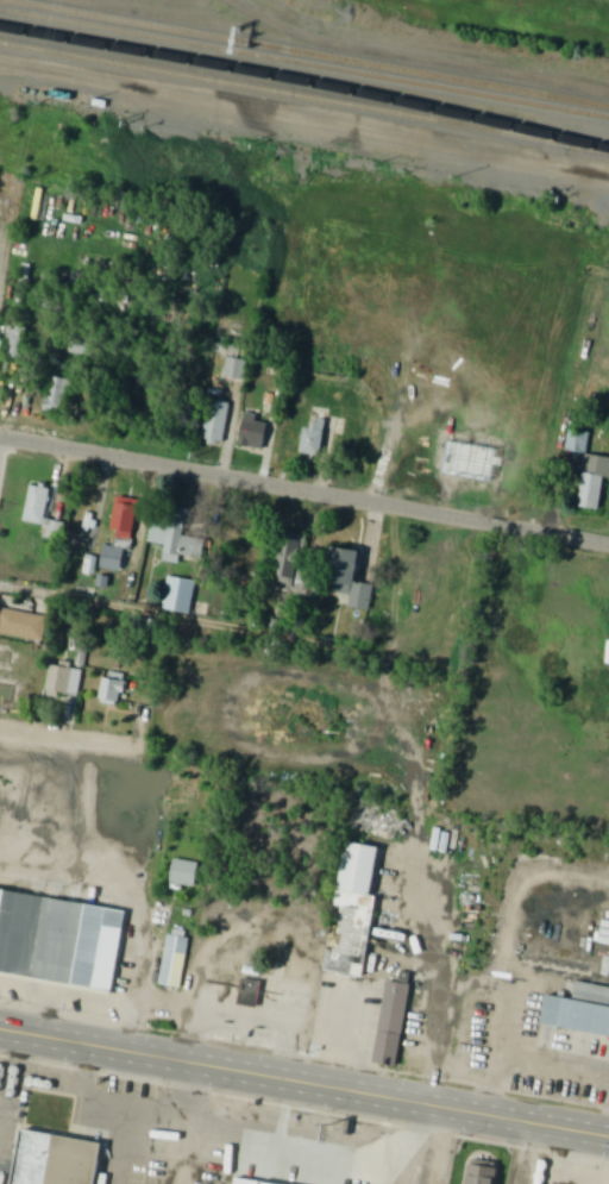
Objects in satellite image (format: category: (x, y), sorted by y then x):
railway: (304, 55)
railway: (304, 65)
railway: (306, 82)
railway: (304, 101)
building: (17, 342)
building: (237, 369)
building: (61, 396)
building: (216, 422)
building: (255, 434)
building: (320, 434)
building: (578, 443)
building: (595, 483)
road: (304, 490)
building: (42, 512)
building: (126, 519)
building: (86, 521)
building: (177, 535)
building: (293, 556)
building: (115, 558)
building: (347, 571)
building: (180, 595)
road: (165, 619)
building: (24, 626)
building: (65, 681)
building: (114, 690)
road: (65, 740)
building: (358, 867)
building: (186, 876)
building: (501, 878)
building: (59, 939)
building: (175, 960)
road: (377, 989)
building: (251, 992)
building: (578, 1015)
building: (394, 1021)
building: (417, 1042)
road: (304, 1084)
road: (117, 1110)
road: (527, 1154)
building: (56, 1160)
building: (485, 1173)
building: (247, 1182)

